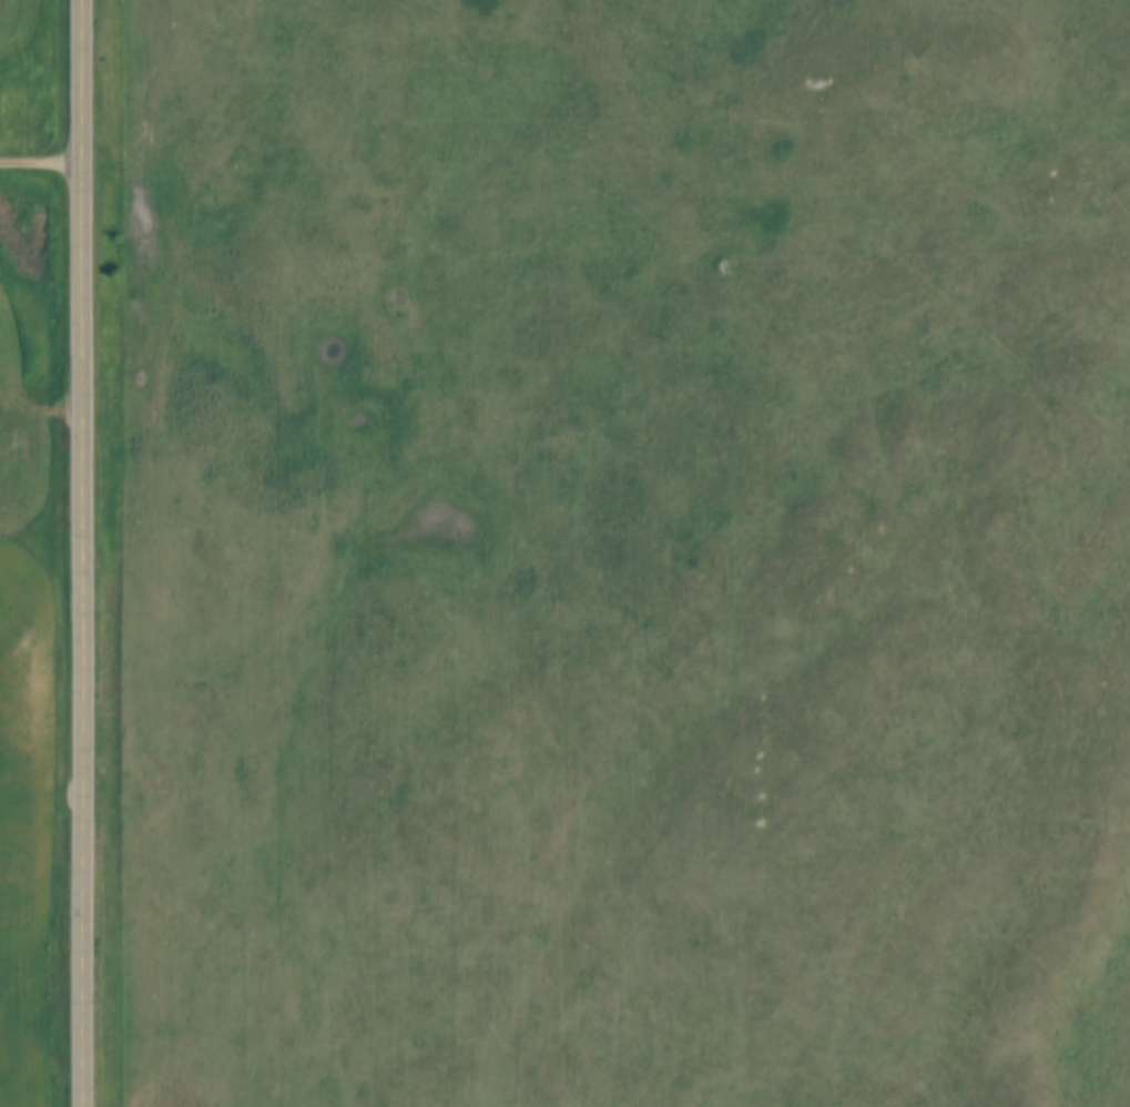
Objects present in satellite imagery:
road: (42, 162)
road: (84, 552)

